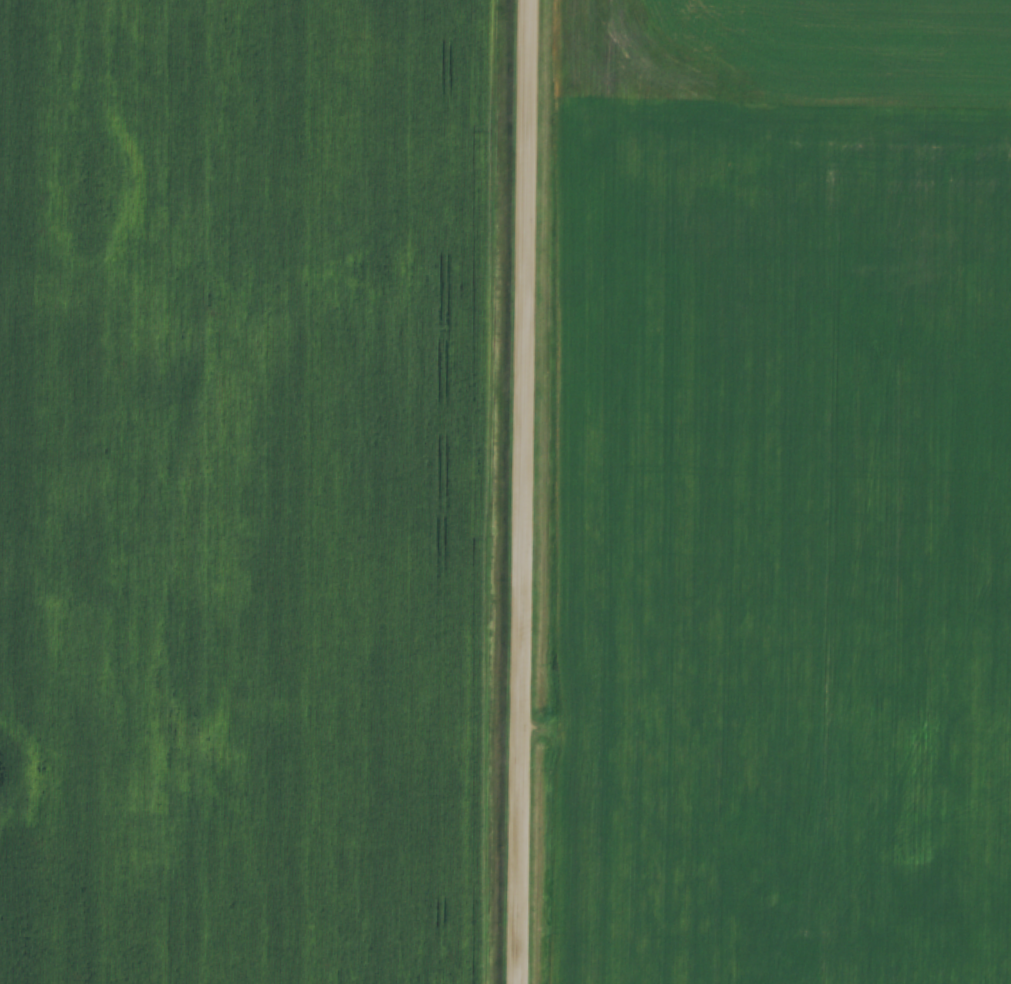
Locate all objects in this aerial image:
road: (529, 492)

